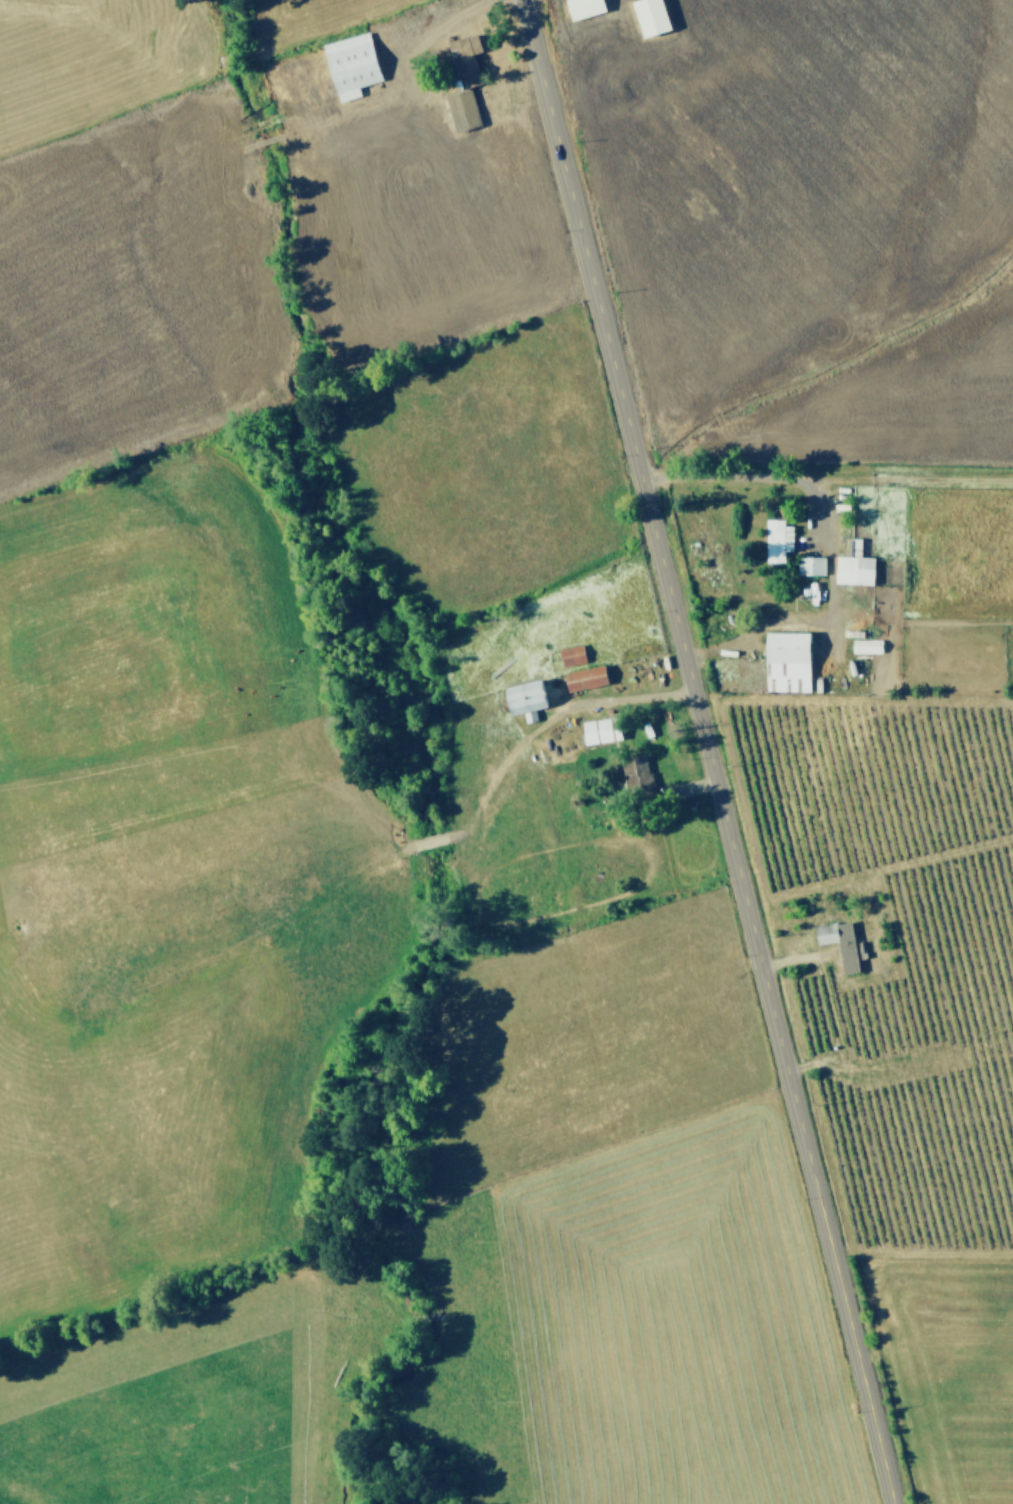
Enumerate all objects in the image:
building: (589, 7)
building: (656, 16)
building: (469, 58)
building: (355, 63)
building: (464, 109)
road: (752, 476)
building: (775, 539)
building: (809, 565)
building: (852, 566)
building: (783, 661)
building: (582, 678)
road: (624, 696)
building: (520, 698)
road: (707, 751)
crop: (506, 752)
building: (635, 771)
building: (838, 942)

